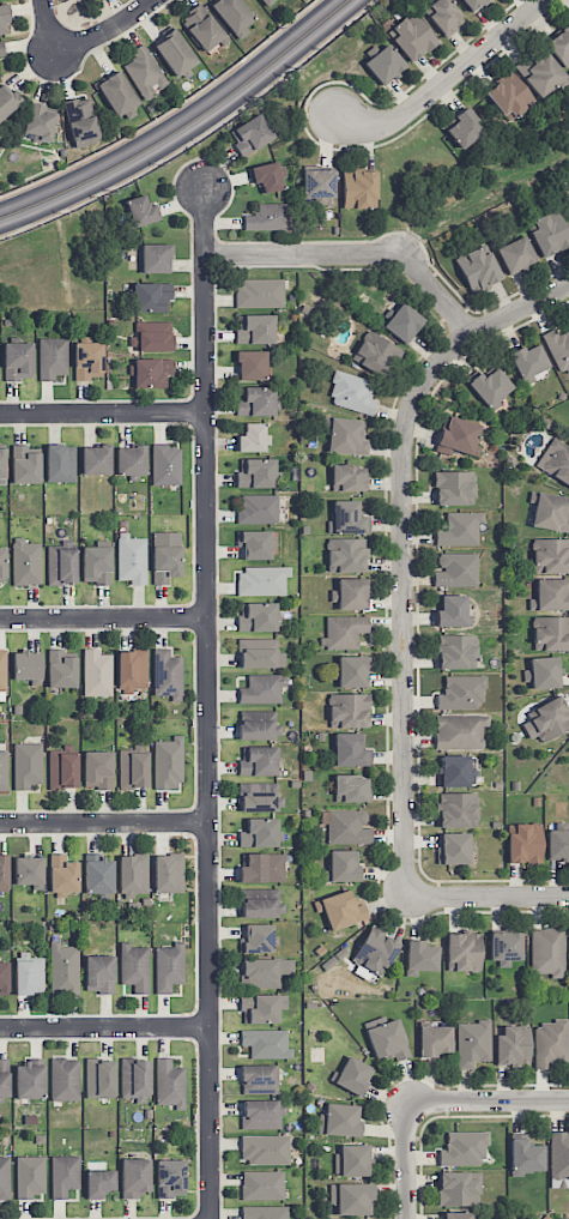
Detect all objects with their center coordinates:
building: (270, 2)
building: (473, 4)
building: (232, 16)
building: (443, 16)
building: (4, 20)
road: (47, 28)
building: (201, 28)
road: (107, 32)
building: (411, 36)
building: (559, 46)
building: (1, 49)
building: (174, 53)
building: (383, 64)
building: (144, 72)
building: (540, 73)
road: (447, 77)
building: (117, 95)
building: (509, 96)
building: (7, 101)
building: (80, 120)
building: (38, 122)
road: (184, 127)
building: (464, 128)
building: (250, 134)
building: (266, 176)
building: (319, 183)
building: (357, 187)
building: (141, 211)
building: (267, 217)
building: (549, 233)
road: (358, 251)
building: (515, 254)
building: (156, 258)
building: (478, 268)
building: (259, 292)
building: (152, 297)
building: (402, 322)
building: (255, 328)
building: (151, 336)
building: (558, 349)
building: (375, 354)
building: (52, 357)
building: (18, 360)
building: (87, 360)
building: (528, 361)
building: (250, 364)
building: (151, 372)
building: (490, 386)
building: (352, 392)
building: (255, 402)
road: (103, 412)
road: (408, 416)
building: (346, 436)
building: (253, 437)
building: (458, 437)
building: (96, 459)
building: (131, 461)
building: (555, 461)
building: (60, 463)
building: (24, 465)
building: (165, 465)
building: (2, 466)
building: (255, 472)
building: (349, 477)
building: (454, 488)
building: (258, 508)
building: (549, 512)
building: (347, 518)
building: (459, 529)
building: (254, 544)
building: (346, 555)
building: (550, 555)
building: (165, 556)
building: (132, 559)
building: (25, 562)
building: (61, 565)
building: (96, 565)
building: (2, 566)
building: (455, 569)
building: (261, 580)
building: (350, 593)
building: (550, 595)
building: (453, 611)
building: (256, 616)
road: (103, 618)
building: (343, 632)
building: (551, 633)
road: (397, 645)
road: (412, 645)
building: (456, 652)
building: (260, 653)
building: (28, 666)
building: (61, 669)
building: (132, 670)
building: (352, 671)
building: (96, 672)
building: (543, 672)
building: (167, 674)
building: (2, 675)
building: (262, 688)
building: (460, 692)
road: (207, 704)
building: (347, 710)
building: (547, 718)
building: (258, 725)
building: (459, 731)
building: (349, 749)
building: (258, 760)
building: (168, 764)
building: (26, 765)
building: (132, 768)
building: (4, 770)
building: (62, 770)
building: (97, 770)
building: (456, 771)
road: (405, 779)
building: (350, 789)
building: (260, 796)
building: (456, 809)
road: (104, 822)
building: (347, 826)
building: (259, 833)
building: (525, 843)
building: (557, 844)
building: (453, 847)
building: (343, 865)
building: (262, 868)
building: (29, 871)
building: (4, 873)
building: (133, 873)
building: (168, 873)
building: (98, 874)
building: (62, 875)
road: (488, 895)
building: (261, 903)
building: (340, 910)
building: (258, 939)
building: (506, 947)
building: (375, 951)
building: (462, 951)
building: (547, 951)
building: (419, 957)
building: (134, 967)
building: (169, 967)
building: (63, 968)
building: (264, 971)
building: (98, 973)
building: (29, 976)
building: (4, 977)
building: (261, 1008)
road: (104, 1026)
building: (387, 1040)
building: (434, 1040)
building: (266, 1043)
building: (472, 1043)
building: (550, 1043)
building: (512, 1045)
building: (353, 1075)
building: (4, 1078)
building: (99, 1078)
building: (259, 1078)
building: (30, 1079)
building: (63, 1079)
building: (134, 1079)
building: (169, 1084)
road: (488, 1100)
building: (261, 1114)
building: (339, 1120)
building: (265, 1148)
building: (464, 1148)
building: (525, 1157)
building: (558, 1158)
building: (351, 1159)
road: (407, 1161)
building: (63, 1175)
building: (30, 1176)
building: (4, 1177)
building: (134, 1177)
building: (170, 1177)
building: (99, 1182)
building: (262, 1184)
building: (458, 1188)
building: (351, 1197)
building: (264, 1212)
building: (456, 1215)

